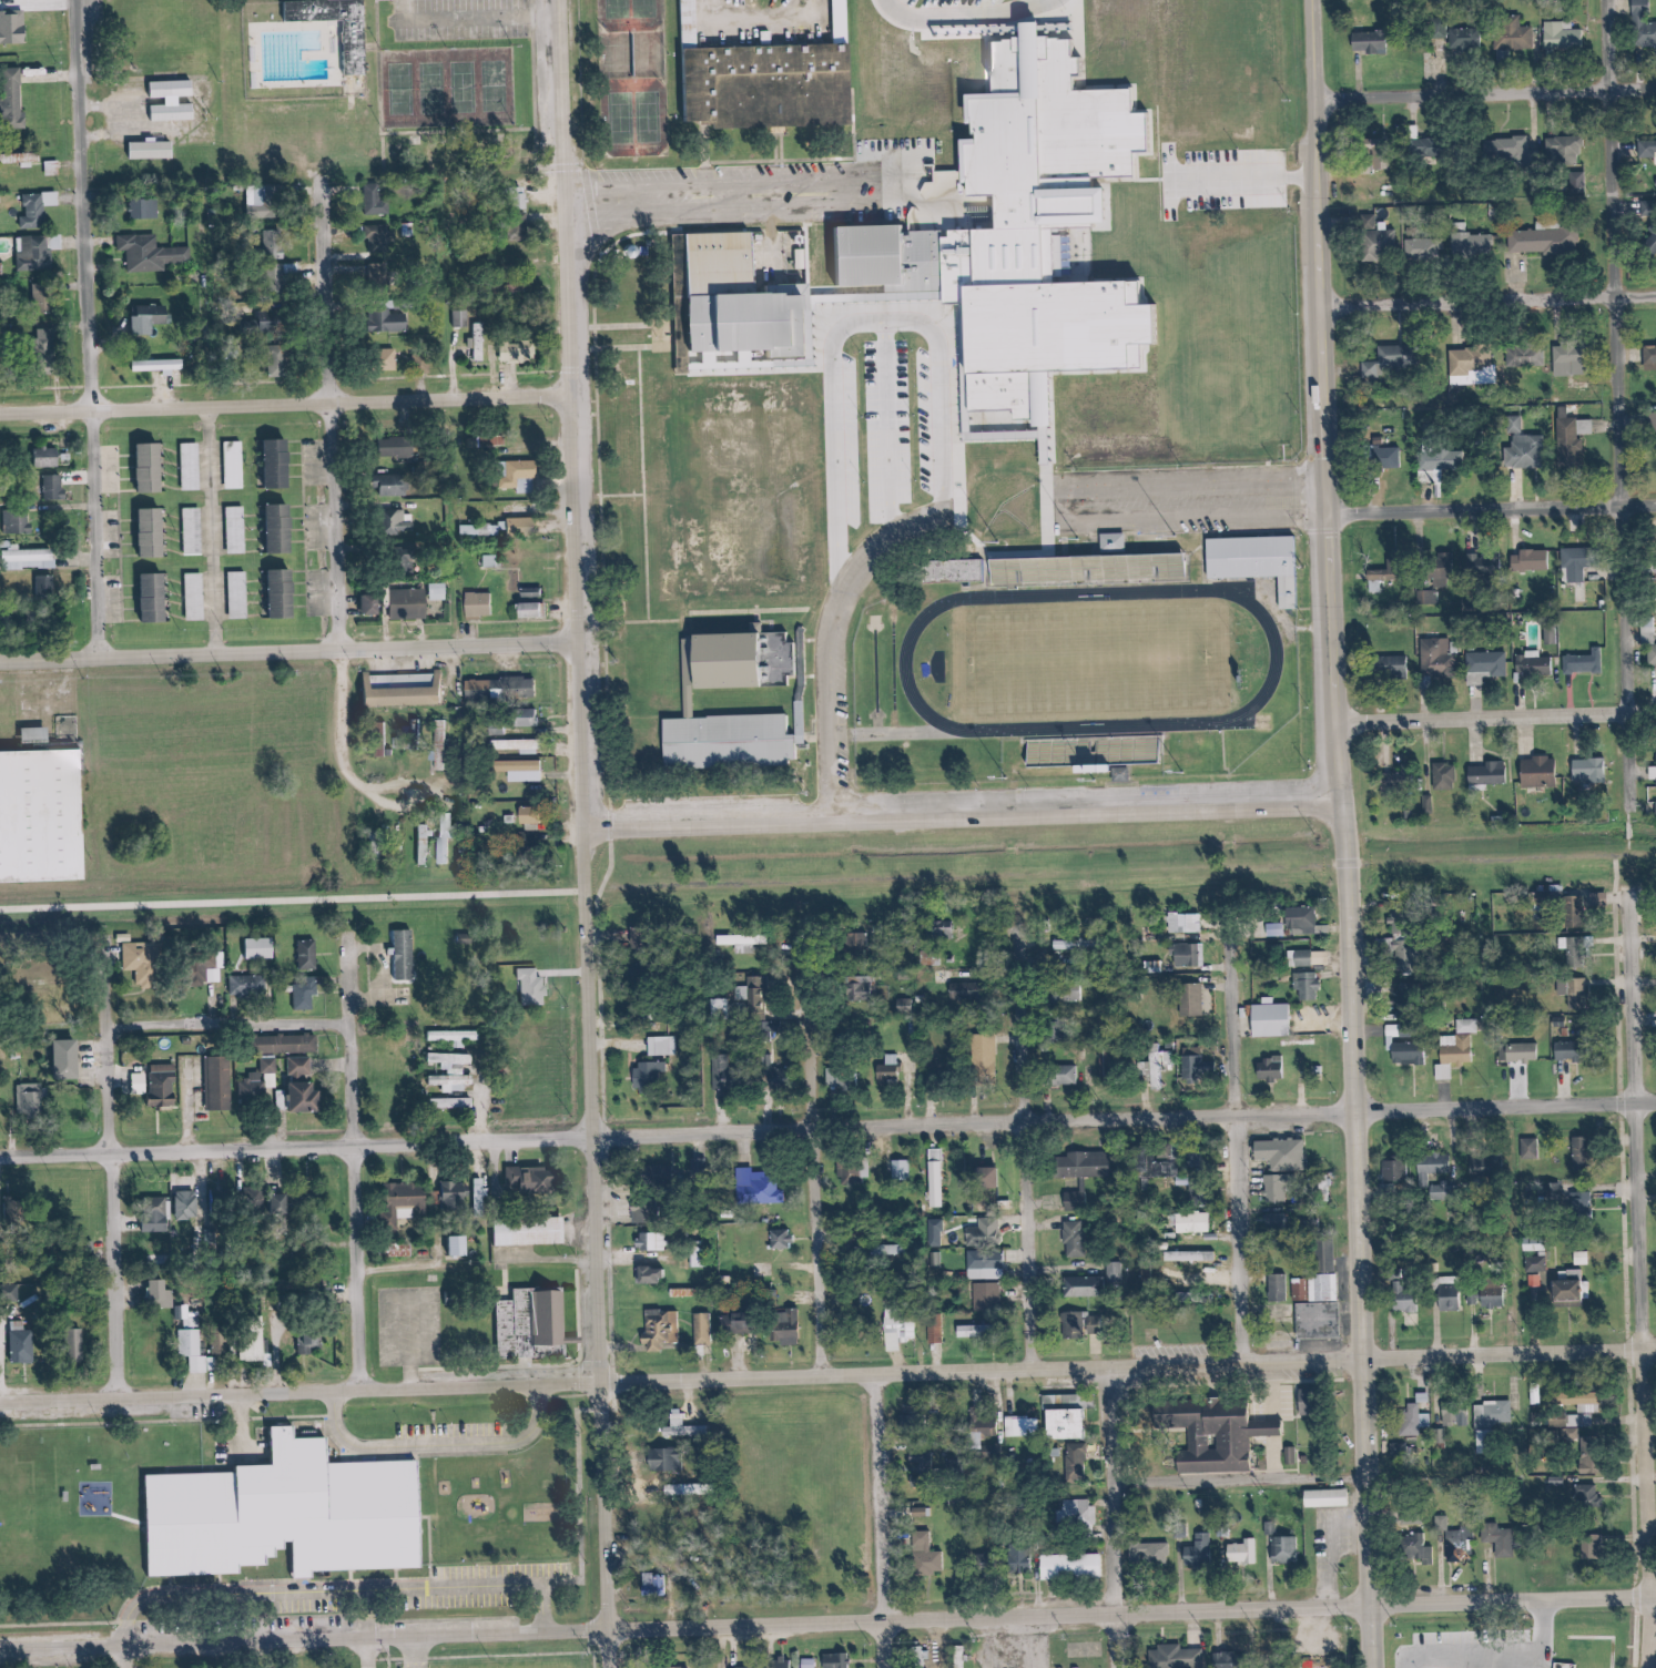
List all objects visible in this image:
road: (342, 1)
road: (956, 13)
park: (644, 16)
parking lot: (474, 19)
building: (687, 20)
building: (1640, 26)
building: (16, 28)
building: (1562, 34)
building: (1512, 35)
building: (1464, 38)
building: (1369, 40)
building: (359, 47)
park: (647, 57)
park: (400, 81)
building: (12, 89)
park: (459, 91)
road: (1490, 92)
park: (648, 119)
building: (1512, 146)
building: (1564, 146)
building: (1646, 148)
building: (155, 150)
building: (1380, 153)
road: (951, 180)
building: (266, 196)
road: (952, 204)
building: (1647, 206)
building: (38, 208)
building: (148, 208)
building: (1652, 236)
building: (382, 237)
building: (1546, 237)
building: (1376, 238)
building: (1474, 242)
building: (1424, 247)
building: (152, 252)
building: (34, 253)
building: (2, 268)
road: (1493, 295)
building: (742, 299)
building: (398, 321)
building: (153, 323)
road: (103, 329)
road: (1022, 334)
park: (1160, 339)
building: (478, 342)
road: (988, 342)
building: (519, 352)
building: (1523, 354)
building: (1649, 356)
building: (1470, 357)
building: (393, 358)
building: (1571, 358)
building: (1390, 359)
building: (163, 365)
road: (291, 404)
road: (339, 416)
road: (1625, 418)
building: (1653, 424)
building: (1585, 425)
building: (1567, 436)
building: (489, 438)
building: (1526, 443)
building: (398, 447)
building: (54, 456)
building: (1389, 457)
building: (1439, 459)
building: (237, 465)
building: (194, 466)
building: (152, 469)
building: (397, 485)
road: (656, 486)
building: (55, 487)
road: (632, 497)
road: (597, 498)
road: (971, 507)
building: (286, 508)
road: (1496, 509)
road: (1164, 521)
building: (238, 529)
building: (481, 529)
building: (194, 531)
road: (226, 532)
building: (154, 533)
building: (1113, 540)
building: (1491, 558)
building: (31, 559)
building: (1530, 559)
building: (490, 560)
building: (1257, 560)
building: (1577, 560)
building: (1451, 565)
building: (954, 570)
building: (1385, 572)
building: (1007, 574)
building: (1046, 574)
building: (45, 584)
building: (438, 591)
building: (537, 591)
building: (288, 592)
building: (241, 594)
building: (196, 596)
building: (1425, 597)
building: (156, 598)
building: (372, 603)
building: (412, 603)
building: (482, 604)
building: (539, 609)
building: (1648, 642)
road: (294, 654)
building: (1435, 657)
track: (907, 661)
building: (1582, 661)
park: (1093, 662)
building: (1485, 662)
building: (1531, 662)
building: (1396, 665)
building: (484, 689)
building: (407, 690)
road: (1501, 719)
road: (892, 736)
building: (730, 742)
building: (525, 744)
road: (354, 763)
building: (1587, 770)
building: (527, 771)
building: (1538, 771)
building: (1653, 772)
road: (620, 773)
building: (1487, 773)
building: (1443, 775)
building: (1654, 808)
road: (969, 811)
building: (44, 812)
building: (532, 817)
building: (427, 828)
road: (592, 834)
road: (1350, 834)
building: (448, 843)
road: (1128, 872)
railway: (827, 878)
building: (1550, 892)
road: (297, 901)
building: (1576, 911)
building: (1300, 919)
building: (1185, 922)
building: (643, 937)
building: (743, 940)
building: (1077, 945)
building: (261, 947)
building: (1573, 949)
building: (1183, 953)
building: (306, 954)
building: (1405, 955)
building: (406, 956)
building: (1297, 957)
building: (140, 960)
building: (216, 975)
road: (1629, 977)
building: (1304, 984)
building: (248, 985)
building: (534, 987)
building: (865, 987)
building: (967, 990)
building: (1576, 990)
building: (756, 994)
building: (305, 997)
building: (1191, 998)
building: (721, 1005)
building: (649, 1011)
building: (1272, 1019)
road: (240, 1027)
building: (454, 1036)
building: (291, 1044)
building: (1403, 1044)
building: (661, 1045)
building: (1571, 1049)
building: (1517, 1051)
building: (984, 1055)
building: (1453, 1055)
building: (72, 1059)
building: (1191, 1061)
building: (1108, 1065)
building: (1270, 1068)
building: (451, 1070)
building: (888, 1070)
building: (840, 1072)
building: (1067, 1074)
building: (652, 1078)
building: (261, 1081)
building: (142, 1084)
building: (222, 1084)
building: (167, 1085)
building: (307, 1086)
building: (30, 1099)
road: (1633, 1103)
road: (827, 1127)
road: (1244, 1147)
building: (1528, 1148)
road: (1030, 1149)
building: (1579, 1152)
road: (821, 1157)
building: (1086, 1163)
road: (362, 1164)
building: (1280, 1164)
building: (1433, 1166)
building: (900, 1169)
road: (126, 1170)
building: (1394, 1170)
building: (849, 1171)
building: (664, 1172)
building: (992, 1173)
building: (934, 1176)
building: (534, 1180)
building: (759, 1187)
building: (1197, 1190)
building: (1441, 1190)
building: (455, 1193)
building: (412, 1197)
building: (1078, 1197)
building: (1579, 1198)
road: (1644, 1200)
building: (282, 1202)
building: (219, 1203)
building: (189, 1204)
building: (155, 1217)
building: (1193, 1222)
road: (1630, 1227)
building: (988, 1229)
building: (1084, 1234)
building: (792, 1238)
building: (661, 1239)
building: (463, 1245)
building: (176, 1251)
building: (997, 1259)
building: (1080, 1288)
building: (1276, 1289)
building: (1565, 1291)
building: (160, 1292)
building: (1489, 1294)
building: (985, 1298)
building: (1192, 1299)
building: (1449, 1301)
building: (1314, 1308)
building: (542, 1323)
building: (733, 1323)
building: (1095, 1326)
building: (1070, 1328)
building: (701, 1329)
building: (782, 1329)
building: (902, 1331)
building: (972, 1332)
building: (313, 1343)
building: (21, 1345)
building: (256, 1345)
road: (1629, 1350)
building: (199, 1351)
road: (827, 1377)
building: (1450, 1410)
road: (598, 1413)
building: (1066, 1414)
building: (1412, 1416)
building: (1554, 1420)
building: (1487, 1424)
building: (1583, 1427)
building: (1231, 1435)
building: (920, 1463)
building: (1067, 1464)
road: (1639, 1475)
road: (1249, 1483)
building: (1339, 1496)
building: (1587, 1499)
building: (286, 1514)
road: (1125, 1517)
building: (1075, 1519)
road: (891, 1520)
road: (593, 1522)
building: (1452, 1522)
building: (1511, 1537)
building: (1497, 1540)
building: (1470, 1544)
road: (1343, 1545)
building: (1589, 1548)
building: (1282, 1550)
building: (1240, 1552)
building: (1415, 1552)
building: (1196, 1553)
building: (924, 1556)
building: (1149, 1556)
building: (1016, 1559)
building: (1068, 1567)
road: (1452, 1570)
road: (679, 1573)
road: (407, 1574)
road: (362, 1575)
road: (1502, 1576)
building: (666, 1584)
road: (253, 1586)
road: (1648, 1599)
road: (681, 1600)
road: (1517, 1601)
road: (690, 1628)
road: (1647, 1640)
building: (1592, 1648)
road: (428, 1650)
road: (378, 1651)
road: (141, 1658)
road: (506, 1658)
building: (917, 1658)
building: (1175, 1658)
building: (1456, 1658)
building: (1506, 1659)
building: (1228, 1660)
building: (833, 1661)
building: (1410, 1661)
building: (1321, 1662)
building: (781, 1665)
building: (806, 1665)

